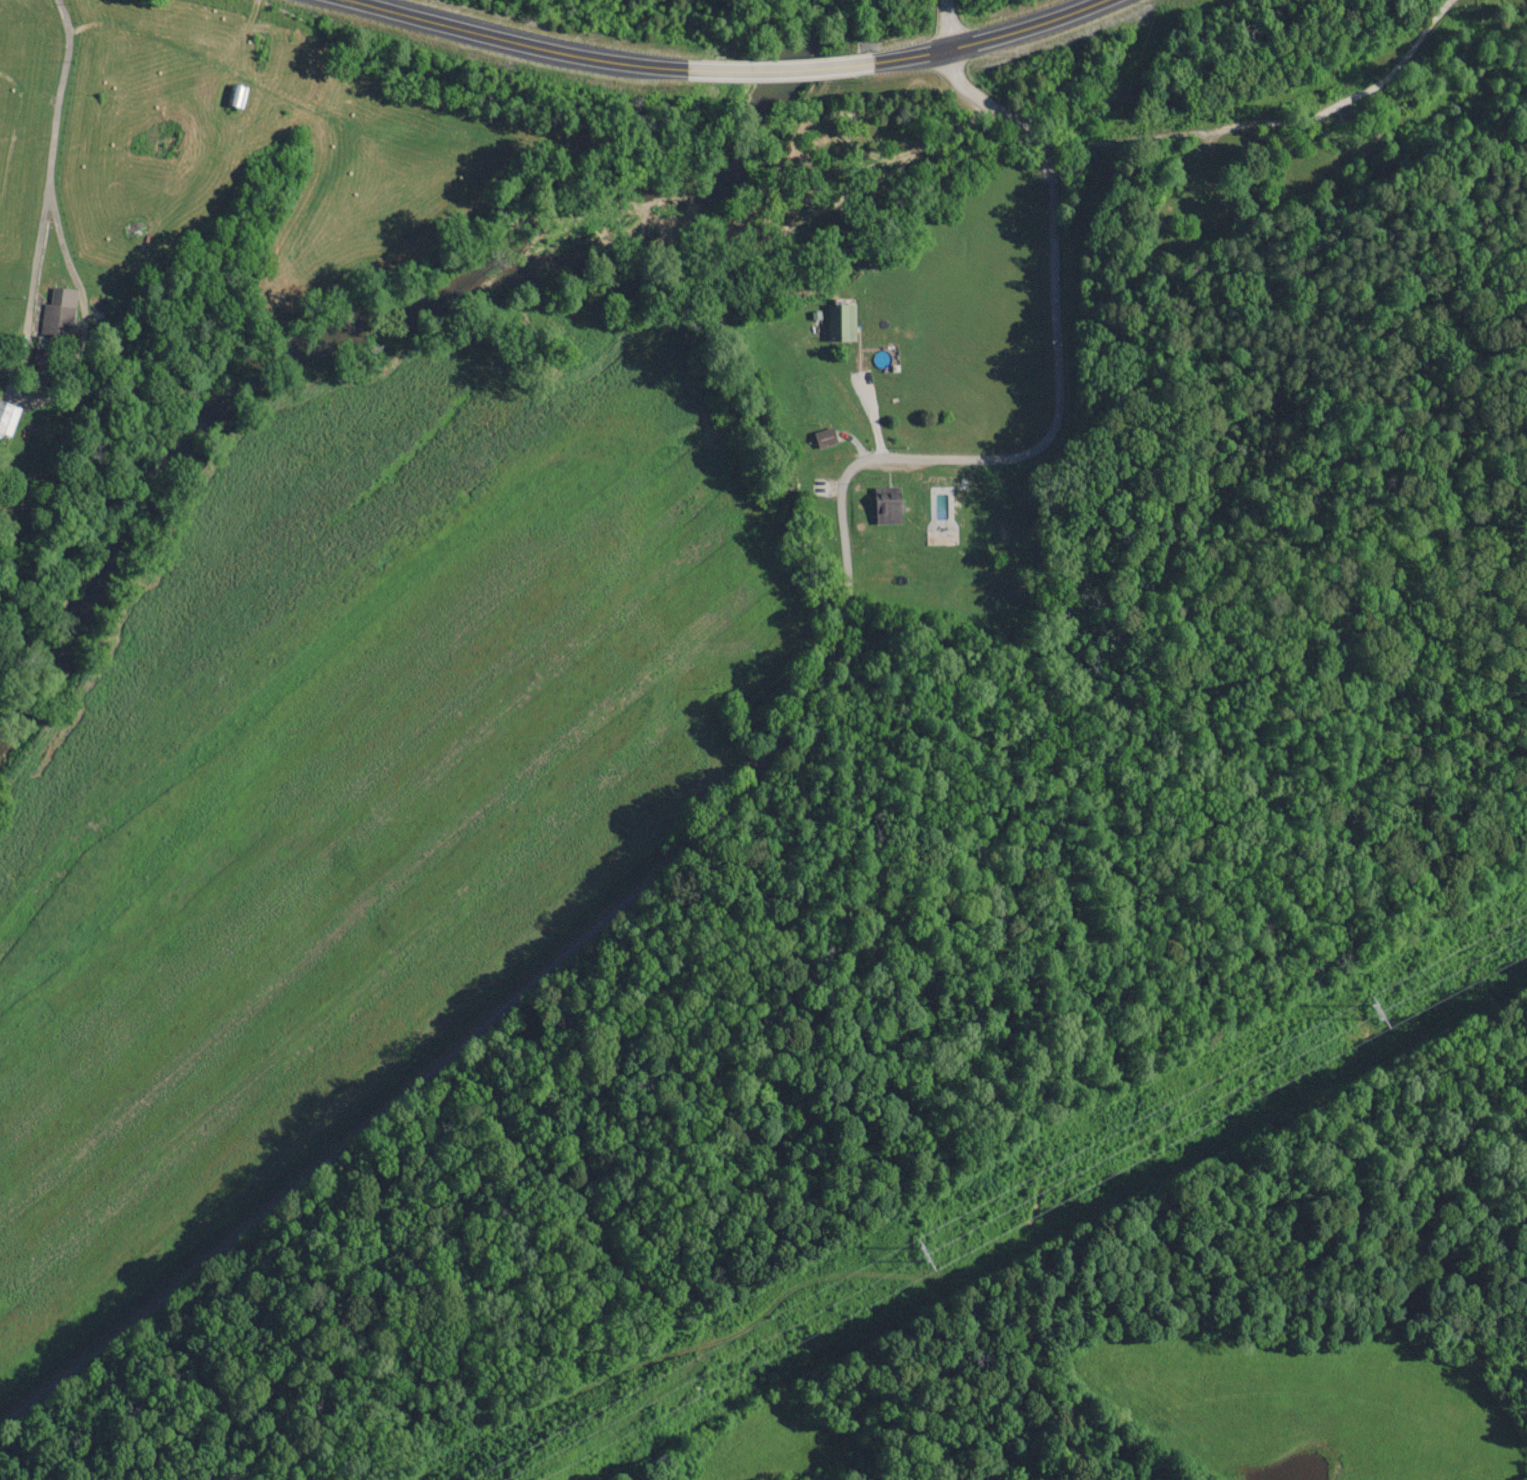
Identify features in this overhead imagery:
road: (944, 25)
road: (723, 70)
building: (234, 96)
building: (1201, 188)
building: (53, 321)
building: (838, 323)
building: (6, 421)
building: (822, 438)
building: (884, 506)
building: (970, 531)
building: (938, 537)
road: (727, 796)
power tower: (1373, 1013)
power tower: (921, 1257)

